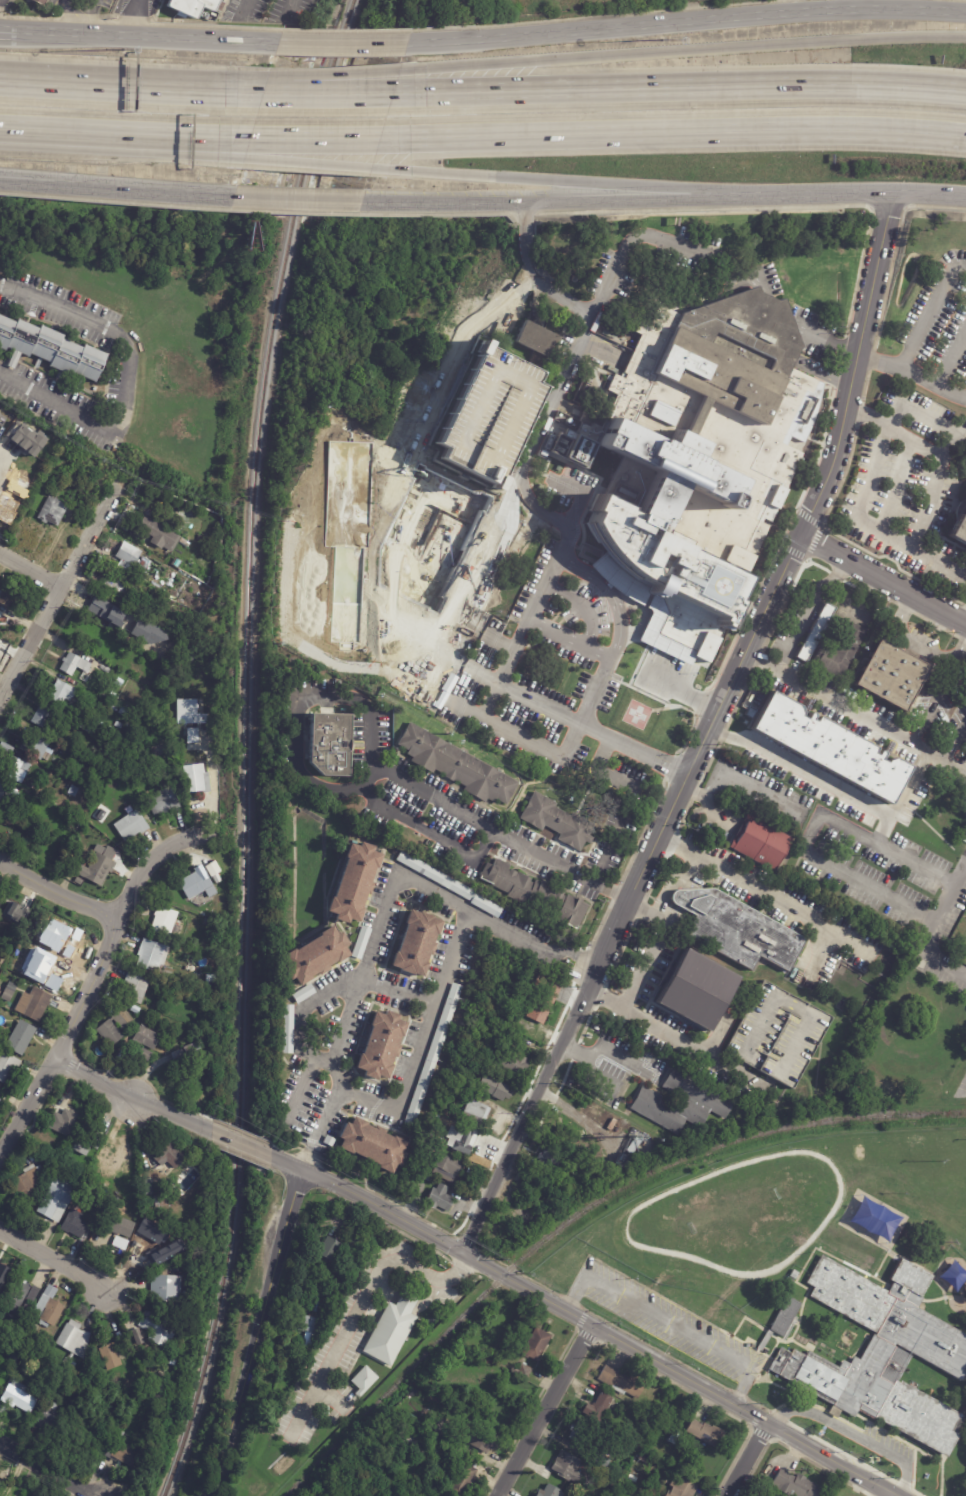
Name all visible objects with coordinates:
building: (38, 2)
road: (64, 2)
building: (191, 6)
road: (290, 8)
road: (244, 9)
road: (68, 11)
road: (130, 17)
road: (688, 21)
road: (7, 31)
road: (147, 35)
road: (345, 42)
road: (685, 51)
road: (336, 75)
road: (99, 83)
road: (233, 84)
road: (681, 89)
road: (232, 90)
road: (330, 94)
road: (675, 130)
road: (57, 131)
road: (184, 134)
road: (319, 135)
road: (181, 147)
road: (310, 165)
road: (575, 183)
road: (117, 192)
road: (929, 196)
road: (114, 200)
road: (299, 202)
road: (628, 203)
road: (936, 206)
road: (887, 208)
road: (712, 209)
road: (293, 211)
road: (437, 213)
road: (525, 213)
road: (581, 309)
road: (919, 329)
building: (533, 337)
parking lot: (929, 340)
road: (827, 342)
building: (51, 348)
road: (953, 354)
road: (851, 365)
building: (633, 376)
road: (933, 377)
road: (123, 382)
road: (899, 399)
building: (1, 419)
building: (486, 421)
parking lot: (486, 421)
building: (699, 433)
building: (24, 436)
road: (528, 444)
building: (14, 446)
road: (924, 448)
road: (1, 461)
road: (429, 482)
road: (896, 489)
road: (581, 491)
road: (381, 494)
road: (930, 501)
parking lot: (910, 502)
parking lot: (398, 510)
building: (54, 511)
road: (867, 528)
building: (160, 533)
building: (962, 533)
building: (185, 544)
building: (152, 553)
building: (130, 554)
building: (738, 558)
building: (179, 562)
road: (31, 569)
road: (596, 581)
road: (881, 583)
building: (117, 585)
road: (62, 586)
building: (5, 592)
road: (582, 605)
building: (100, 606)
road: (805, 610)
building: (1, 615)
building: (817, 632)
building: (151, 633)
road: (912, 638)
building: (89, 639)
road: (565, 639)
building: (840, 651)
road: (459, 660)
road: (627, 662)
building: (76, 665)
building: (897, 669)
building: (120, 682)
parking lot: (557, 683)
road: (679, 685)
road: (939, 688)
building: (64, 692)
road: (449, 692)
building: (113, 696)
building: (188, 712)
building: (127, 713)
helipad: (637, 714)
building: (46, 717)
building: (102, 723)
building: (120, 725)
building: (88, 728)
building: (191, 735)
road: (570, 738)
building: (111, 739)
building: (337, 740)
building: (835, 742)
road: (955, 742)
building: (37, 746)
railway: (246, 746)
building: (7, 748)
road: (601, 754)
road: (945, 762)
road: (378, 767)
building: (18, 770)
building: (198, 780)
road: (908, 783)
building: (115, 786)
building: (224, 786)
road: (213, 787)
building: (496, 787)
road: (746, 787)
building: (75, 792)
building: (8, 795)
building: (49, 795)
building: (165, 802)
road: (707, 803)
road: (418, 822)
building: (132, 826)
road: (880, 829)
road: (808, 833)
building: (97, 838)
building: (765, 844)
road: (601, 866)
building: (211, 868)
building: (101, 870)
building: (435, 875)
building: (357, 878)
building: (218, 879)
road: (671, 879)
building: (199, 885)
road: (763, 892)
road: (58, 893)
building: (530, 893)
road: (633, 893)
building: (489, 907)
building: (206, 915)
building: (0, 919)
building: (166, 923)
building: (732, 926)
road: (115, 927)
road: (929, 931)
building: (67, 937)
building: (419, 942)
building: (364, 944)
road: (651, 948)
road: (821, 949)
building: (154, 956)
building: (317, 956)
building: (52, 972)
building: (791, 972)
building: (14, 985)
building: (701, 987)
building: (137, 989)
building: (0, 992)
road: (331, 992)
building: (306, 994)
building: (9, 995)
building: (498, 1000)
building: (546, 1000)
building: (36, 1003)
road: (349, 1005)
building: (116, 1028)
building: (291, 1031)
building: (780, 1031)
building: (196, 1035)
road: (675, 1035)
building: (22, 1038)
building: (148, 1039)
building: (385, 1041)
road: (604, 1047)
building: (145, 1055)
building: (435, 1056)
building: (515, 1062)
building: (187, 1063)
building: (8, 1067)
road: (599, 1074)
building: (455, 1076)
road: (299, 1087)
building: (495, 1088)
building: (2, 1093)
road: (131, 1098)
building: (297, 1098)
building: (685, 1103)
road: (27, 1107)
building: (455, 1115)
building: (475, 1115)
building: (65, 1121)
road: (320, 1127)
building: (374, 1141)
building: (88, 1142)
building: (464, 1142)
road: (241, 1143)
building: (633, 1145)
building: (428, 1149)
building: (116, 1153)
building: (168, 1159)
building: (619, 1159)
building: (632, 1159)
road: (286, 1162)
building: (574, 1162)
building: (549, 1163)
building: (448, 1168)
building: (83, 1170)
building: (77, 1180)
building: (432, 1180)
building: (30, 1181)
building: (108, 1183)
building: (95, 1189)
building: (181, 1197)
building: (58, 1199)
building: (103, 1199)
building: (441, 1199)
building: (162, 1201)
road: (383, 1207)
railway: (578, 1213)
building: (146, 1222)
building: (75, 1223)
building: (123, 1230)
building: (355, 1242)
building: (153, 1246)
building: (331, 1249)
road: (663, 1250)
road: (52, 1258)
building: (4, 1275)
building: (793, 1275)
building: (168, 1289)
building: (755, 1289)
building: (34, 1294)
building: (17, 1297)
road: (360, 1303)
building: (750, 1305)
building: (27, 1307)
building: (49, 1309)
building: (781, 1320)
parking lot: (667, 1323)
road: (670, 1323)
building: (305, 1327)
building: (394, 1329)
building: (159, 1330)
road: (256, 1333)
building: (140, 1336)
building: (24, 1338)
building: (75, 1342)
building: (538, 1345)
building: (126, 1346)
building: (883, 1354)
building: (33, 1356)
building: (112, 1357)
building: (486, 1358)
building: (14, 1360)
building: (526, 1371)
building: (170, 1375)
road: (679, 1376)
building: (366, 1381)
building: (620, 1382)
building: (159, 1387)
building: (148, 1394)
building: (21, 1398)
building: (597, 1407)
building: (3, 1408)
building: (327, 1410)
road: (541, 1411)
building: (669, 1415)
building: (51, 1417)
building: (414, 1418)
building: (440, 1427)
building: (580, 1432)
building: (703, 1433)
building: (120, 1435)
building: (409, 1436)
road: (855, 1436)
building: (87, 1437)
building: (673, 1437)
building: (484, 1439)
building: (637, 1441)
parking lot: (890, 1441)
building: (124, 1453)
building: (419, 1454)
building: (643, 1458)
road: (748, 1460)
building: (598, 1461)
building: (565, 1467)
road: (46, 1469)
building: (462, 1478)
building: (793, 1486)
building: (680, 1488)
building: (623, 1489)
building: (548, 1491)
building: (375, 1492)
building: (11, 1495)

